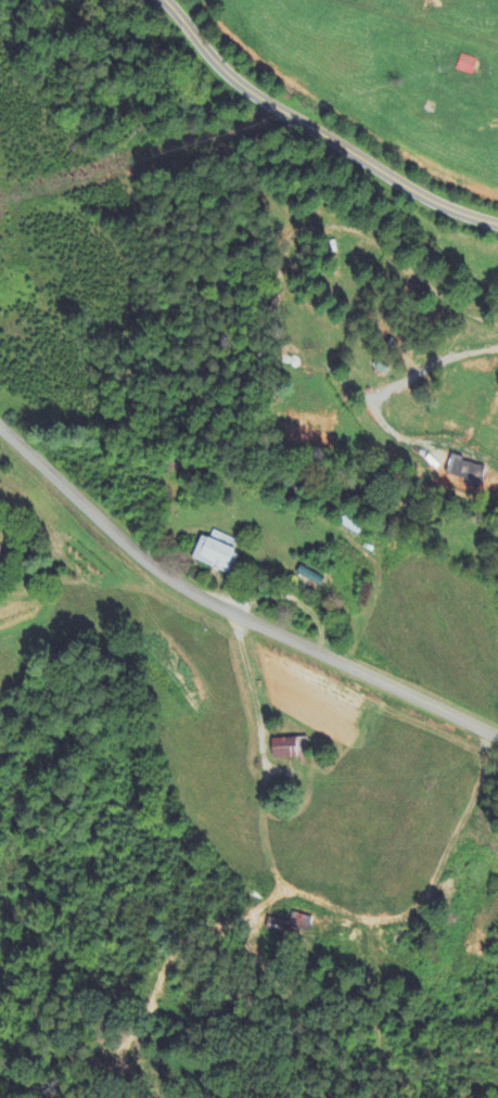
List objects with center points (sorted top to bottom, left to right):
building: (465, 66)
road: (316, 131)
road: (228, 137)
road: (397, 382)
building: (465, 472)
building: (352, 525)
building: (215, 557)
road: (231, 613)
building: (289, 749)
road: (307, 897)
building: (290, 928)

